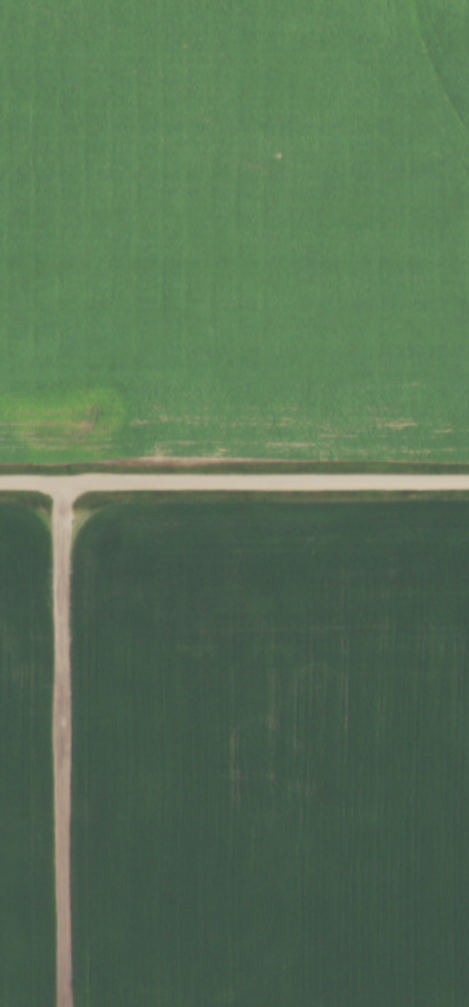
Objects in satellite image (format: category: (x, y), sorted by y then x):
road: (234, 478)
road: (66, 741)

